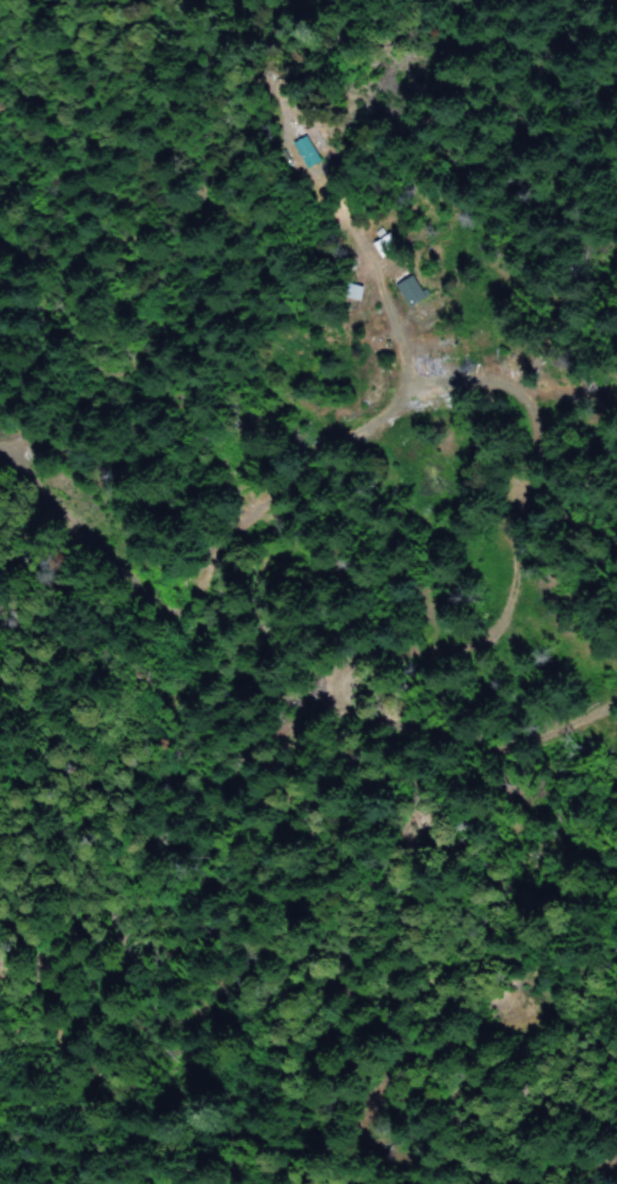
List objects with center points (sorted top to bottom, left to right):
building: (310, 149)
building: (412, 291)

